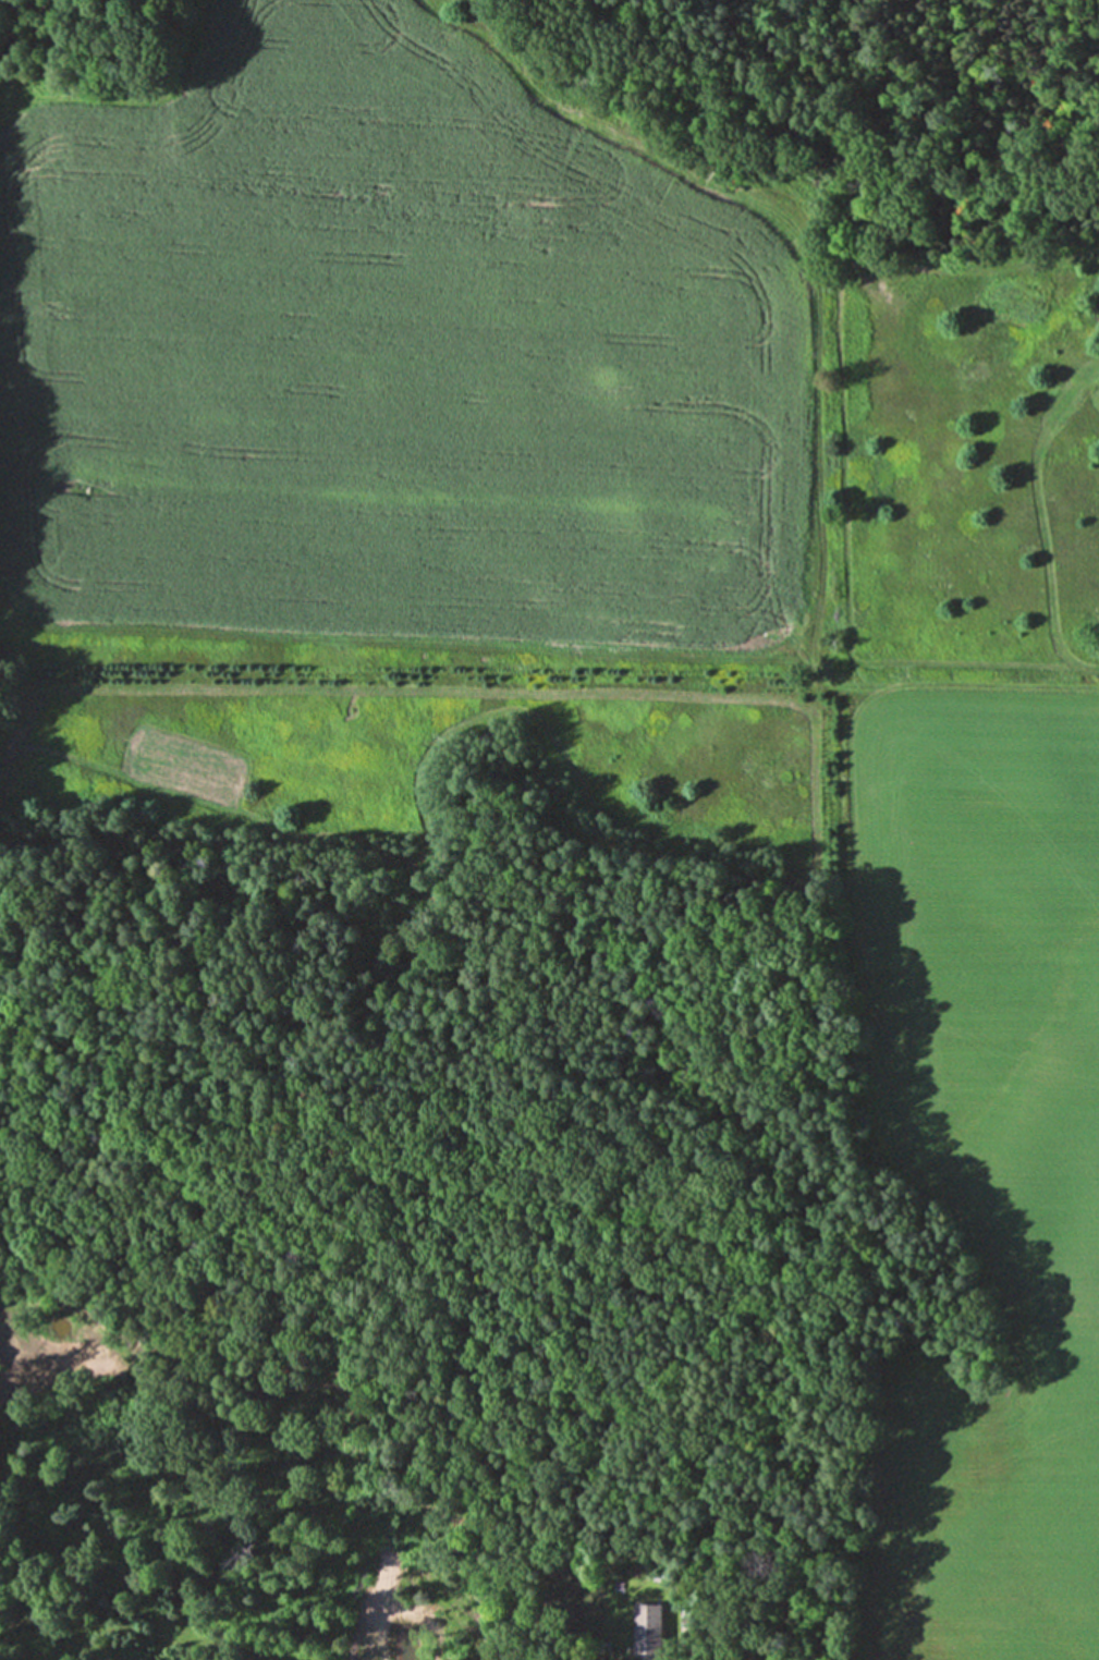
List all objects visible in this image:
building: (648, 1632)

